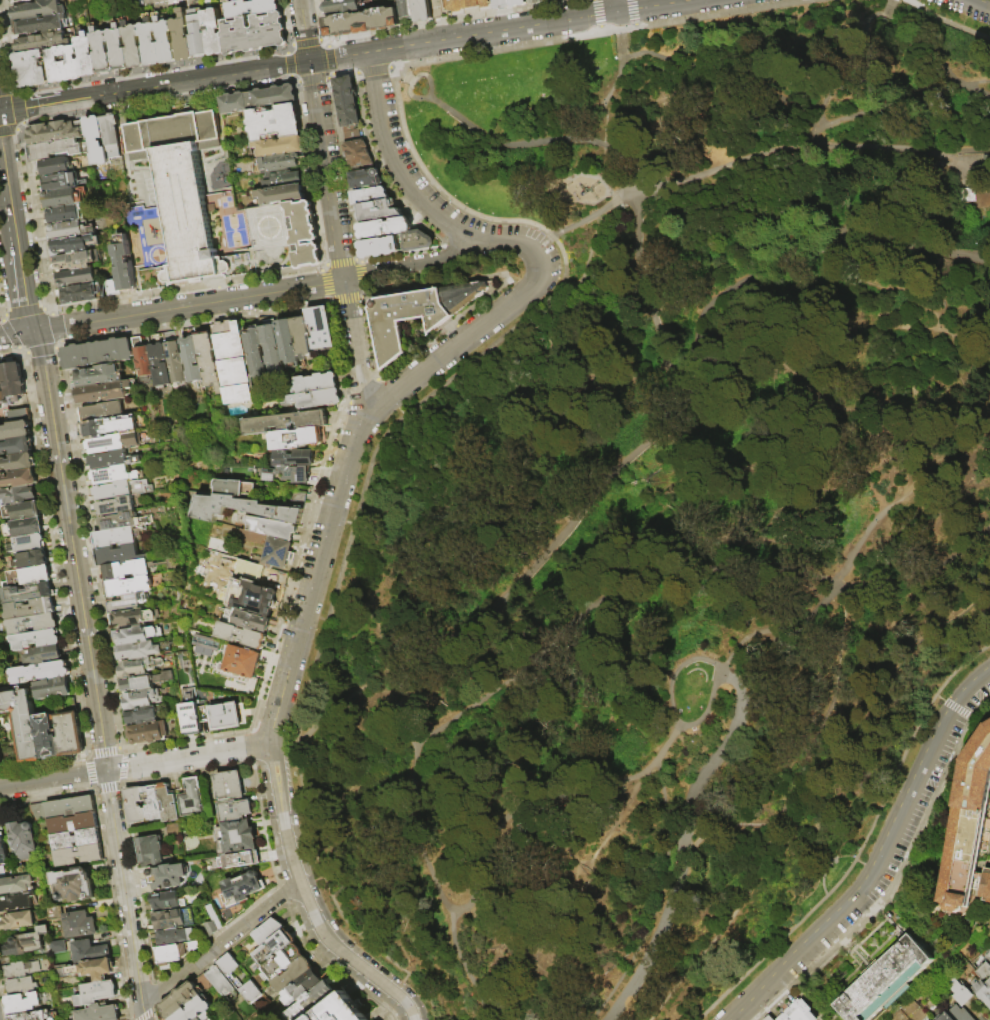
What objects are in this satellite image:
building: (19, 1)
building: (534, 1)
building: (517, 2)
building: (501, 3)
road: (979, 3)
building: (466, 4)
building: (341, 6)
road: (614, 6)
building: (251, 7)
road: (438, 8)
building: (37, 9)
building: (404, 9)
building: (421, 10)
road: (631, 12)
road: (721, 12)
road: (596, 13)
road: (318, 19)
road: (446, 20)
building: (361, 21)
road: (285, 22)
building: (41, 23)
road: (947, 24)
road: (626, 26)
road: (441, 27)
road: (606, 29)
building: (213, 30)
road: (619, 31)
building: (254, 32)
building: (198, 34)
building: (182, 35)
building: (165, 39)
road: (322, 39)
building: (41, 40)
road: (304, 41)
building: (150, 42)
road: (7, 44)
building: (134, 44)
road: (288, 45)
building: (118, 47)
road: (938, 47)
building: (102, 50)
building: (86, 53)
road: (346, 55)
road: (325, 57)
building: (64, 62)
traffic signals: (310, 62)
road: (288, 63)
building: (32, 67)
road: (151, 68)
road: (391, 68)
road: (370, 69)
road: (399, 71)
road: (341, 74)
road: (327, 76)
road: (616, 77)
road: (291, 79)
road: (311, 80)
road: (416, 80)
road: (411, 81)
road: (297, 82)
road: (412, 84)
road: (250, 87)
road: (4, 89)
road: (14, 89)
road: (973, 91)
road: (394, 93)
road: (778, 98)
building: (257, 99)
road: (421, 99)
building: (346, 101)
road: (893, 102)
road: (19, 108)
building: (273, 122)
road: (17, 129)
road: (7, 130)
building: (52, 132)
building: (350, 133)
building: (110, 135)
building: (95, 139)
road: (536, 142)
road: (869, 143)
building: (279, 146)
building: (52, 149)
building: (357, 153)
road: (946, 156)
road: (973, 156)
building: (278, 162)
building: (53, 167)
road: (343, 167)
road: (715, 167)
road: (958, 169)
road: (2, 171)
building: (281, 178)
building: (365, 178)
building: (57, 182)
road: (612, 183)
road: (410, 188)
building: (181, 189)
building: (283, 194)
building: (369, 195)
building: (60, 198)
road: (402, 204)
road: (331, 205)
building: (377, 209)
road: (858, 212)
road: (9, 214)
building: (62, 214)
road: (33, 215)
road: (751, 216)
road: (590, 217)
road: (453, 224)
building: (384, 227)
building: (64, 230)
building: (303, 234)
building: (416, 241)
road: (543, 242)
building: (75, 243)
building: (378, 246)
road: (589, 254)
road: (357, 259)
building: (75, 260)
road: (340, 262)
road: (543, 263)
road: (321, 266)
building: (123, 267)
road: (361, 275)
building: (74, 277)
road: (798, 278)
road: (322, 284)
road: (217, 285)
road: (21, 287)
building: (112, 287)
road: (184, 288)
road: (363, 292)
building: (462, 292)
building: (79, 293)
road: (218, 294)
road: (257, 295)
road: (644, 296)
road: (346, 299)
road: (327, 301)
road: (468, 308)
road: (48, 309)
road: (921, 309)
road: (0, 311)
road: (23, 312)
road: (0, 316)
building: (403, 316)
road: (796, 318)
road: (747, 319)
road: (191, 322)
road: (54, 327)
building: (319, 327)
road: (8, 333)
road: (16, 334)
road: (890, 334)
building: (300, 335)
building: (285, 342)
road: (961, 342)
road: (57, 345)
building: (270, 346)
road: (20, 350)
road: (39, 350)
road: (980, 351)
road: (10, 352)
building: (96, 353)
road: (337, 353)
building: (141, 356)
building: (254, 356)
building: (173, 357)
building: (190, 357)
building: (206, 358)
building: (157, 360)
building: (231, 362)
building: (96, 375)
road: (380, 379)
road: (614, 379)
road: (952, 380)
building: (13, 382)
building: (313, 383)
road: (384, 388)
building: (2, 390)
road: (362, 391)
building: (101, 392)
road: (975, 397)
building: (315, 399)
road: (392, 401)
building: (100, 411)
building: (19, 415)
building: (284, 422)
road: (911, 422)
road: (548, 423)
building: (108, 426)
building: (15, 429)
road: (813, 433)
road: (965, 435)
building: (295, 438)
road: (765, 440)
building: (112, 442)
building: (16, 446)
road: (642, 446)
road: (865, 457)
building: (293, 458)
building: (107, 459)
building: (17, 462)
road: (921, 468)
road: (784, 473)
building: (288, 474)
building: (110, 476)
building: (18, 479)
building: (234, 488)
building: (119, 489)
building: (17, 495)
building: (298, 498)
building: (115, 505)
building: (241, 508)
road: (765, 509)
building: (22, 510)
road: (628, 511)
park: (666, 517)
building: (117, 520)
building: (24, 527)
building: (273, 528)
building: (112, 537)
road: (742, 540)
road: (863, 542)
building: (30, 543)
road: (88, 546)
road: (73, 550)
road: (56, 553)
building: (276, 553)
building: (115, 555)
building: (31, 559)
building: (125, 569)
road: (919, 572)
building: (29, 575)
building: (128, 585)
road: (605, 590)
building: (27, 592)
building: (253, 599)
building: (127, 603)
road: (331, 605)
building: (30, 608)
building: (133, 617)
road: (803, 618)
building: (246, 620)
building: (32, 623)
road: (276, 628)
road: (300, 629)
building: (137, 635)
building: (241, 635)
building: (36, 640)
road: (908, 645)
road: (844, 647)
road: (423, 649)
building: (137, 651)
building: (42, 655)
building: (241, 662)
road: (732, 665)
building: (137, 667)
building: (39, 672)
building: (143, 682)
building: (52, 688)
road: (413, 691)
road: (678, 695)
building: (141, 699)
building: (64, 706)
road: (978, 706)
road: (335, 707)
road: (955, 708)
building: (204, 715)
building: (140, 716)
building: (224, 716)
building: (191, 719)
building: (23, 723)
road: (253, 727)
road: (575, 731)
road: (249, 732)
building: (148, 733)
building: (70, 734)
road: (270, 735)
building: (47, 736)
road: (118, 747)
road: (249, 747)
road: (102, 751)
road: (123, 752)
road: (271, 752)
road: (189, 757)
building: (1, 758)
road: (44, 762)
road: (251, 763)
road: (121, 767)
road: (363, 768)
road: (90, 770)
road: (665, 774)
road: (836, 774)
road: (182, 775)
road: (53, 780)
road: (119, 783)
building: (228, 785)
road: (92, 788)
road: (105, 788)
road: (46, 797)
building: (191, 798)
road: (789, 799)
road: (530, 800)
building: (151, 802)
building: (167, 802)
building: (134, 805)
building: (68, 806)
building: (235, 810)
road: (783, 822)
building: (70, 823)
road: (262, 824)
building: (968, 829)
building: (24, 837)
building: (240, 837)
building: (73, 838)
road: (864, 842)
road: (687, 843)
road: (698, 846)
road: (610, 847)
building: (3, 849)
building: (151, 852)
road: (337, 853)
building: (75, 855)
road: (429, 856)
road: (878, 856)
building: (239, 860)
road: (877, 871)
road: (821, 872)
building: (2, 874)
building: (166, 876)
road: (892, 878)
road: (306, 882)
building: (76, 885)
road: (134, 885)
building: (16, 886)
road: (889, 887)
building: (241, 889)
road: (283, 892)
road: (124, 895)
building: (166, 901)
building: (16, 902)
road: (574, 904)
road: (111, 905)
road: (383, 907)
building: (168, 919)
building: (18, 921)
building: (211, 921)
building: (79, 926)
building: (268, 932)
road: (215, 933)
road: (648, 933)
building: (174, 936)
road: (517, 941)
building: (28, 943)
road: (219, 945)
building: (56, 946)
building: (271, 948)
building: (91, 952)
building: (172, 952)
road: (219, 954)
road: (702, 955)
building: (986, 956)
building: (277, 963)
building: (228, 966)
road: (330, 968)
building: (22, 970)
building: (95, 970)
building: (983, 972)
building: (292, 974)
building: (220, 981)
building: (885, 981)
building: (22, 986)
road: (395, 987)
building: (301, 988)
building: (957, 990)
building: (248, 991)
building: (981, 992)
building: (97, 993)
road: (150, 994)
building: (179, 998)
building: (310, 1001)
building: (24, 1004)
road: (151, 1008)
building: (192, 1008)
road: (1, 1009)
building: (339, 1011)
building: (797, 1011)
building: (100, 1013)
road: (152, 1014)
road: (506, 1014)
road: (143, 1015)
building: (37, 1016)
building: (966, 1016)
building: (944, 1017)
building: (769, 1018)
building: (199, 1019)
building: (983, 1019)

